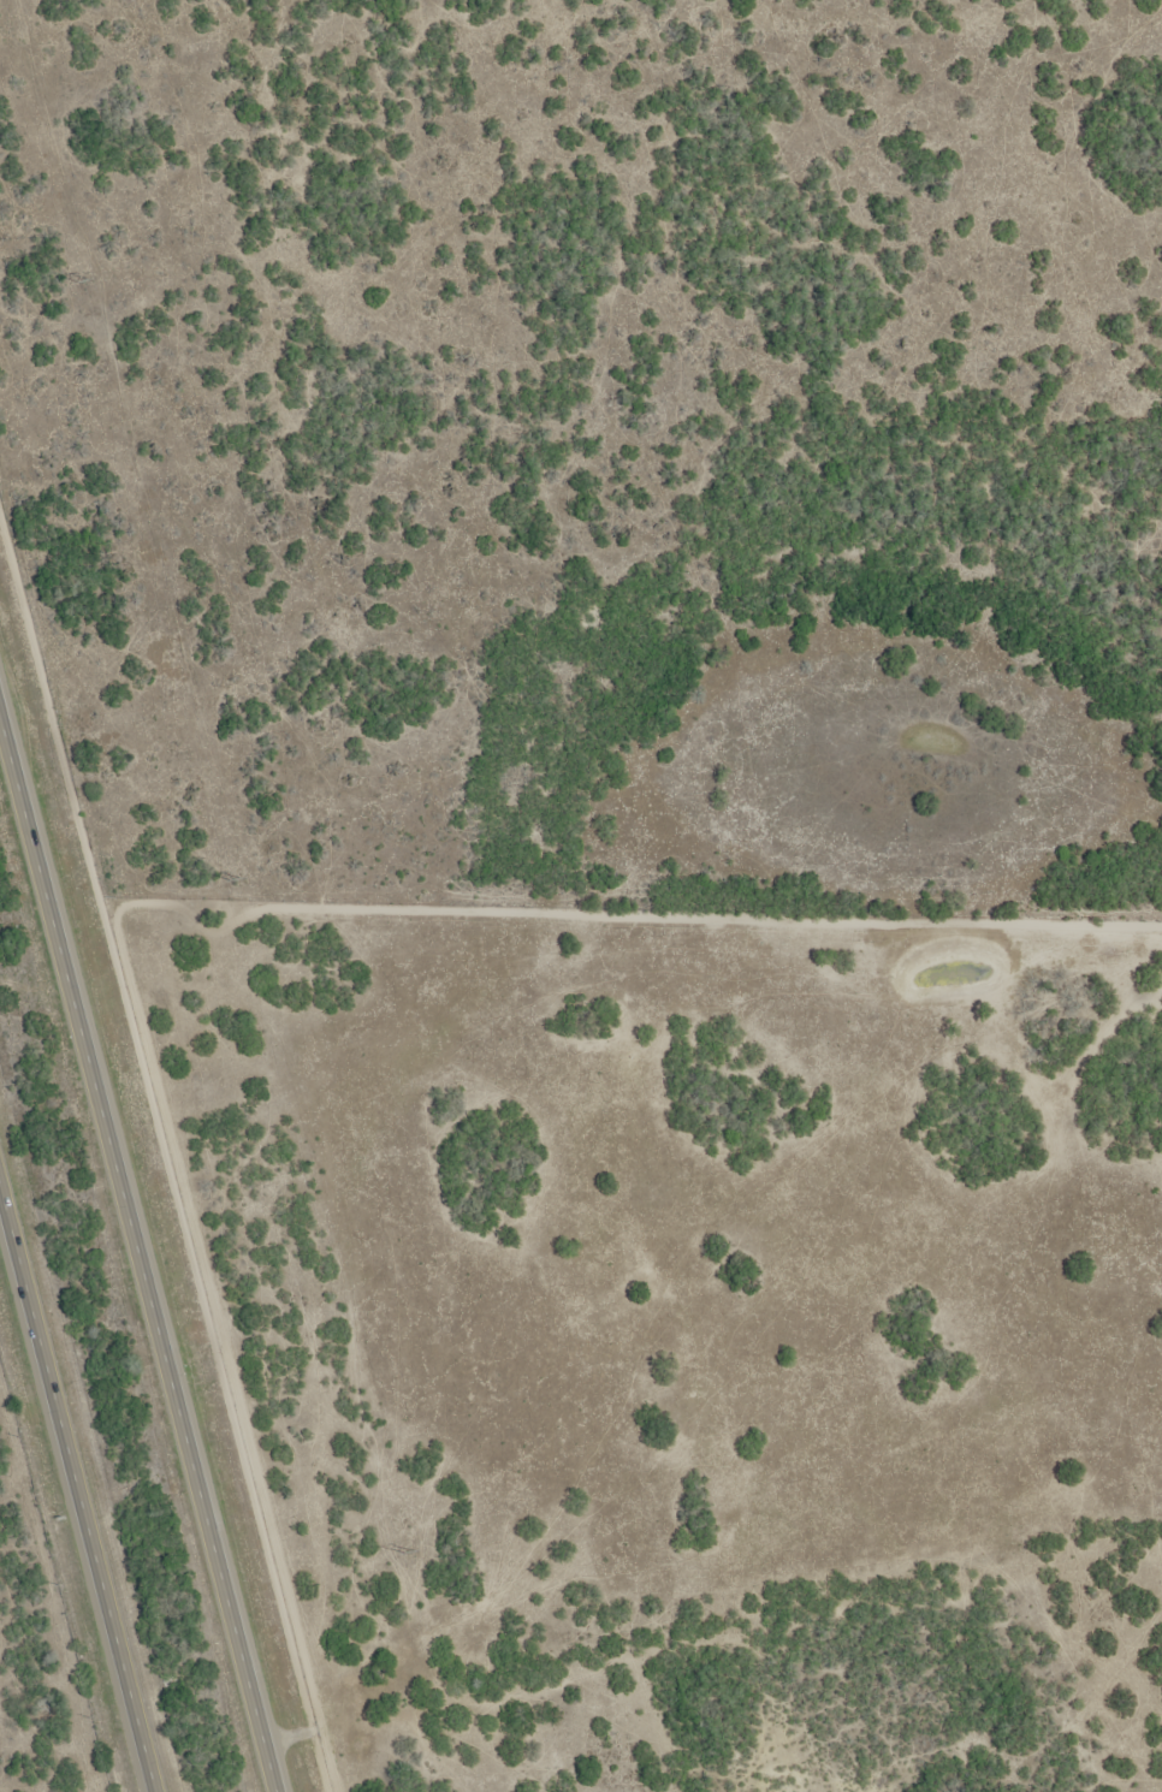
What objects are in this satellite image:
power tower: (85, 280)
power tower: (238, 878)
road: (138, 1244)
road: (79, 1471)
power tower: (413, 1553)

